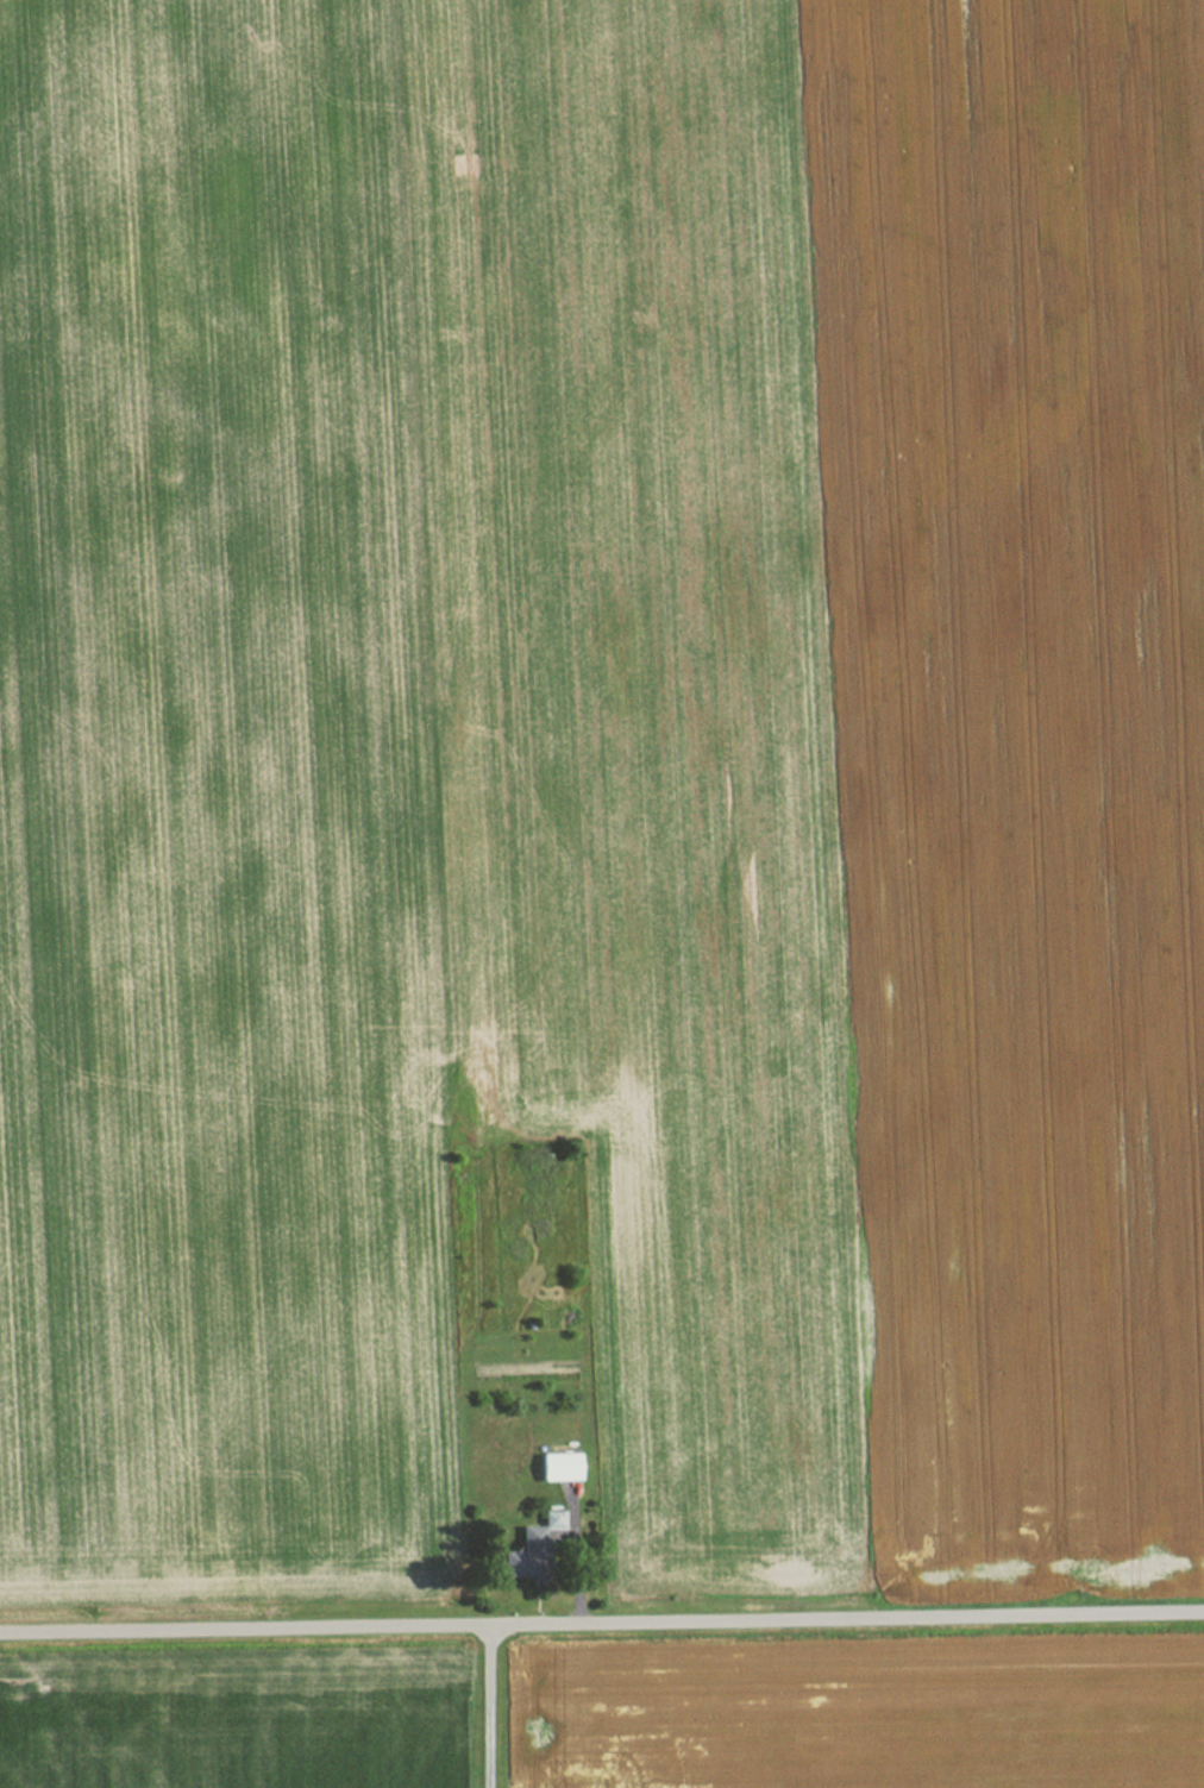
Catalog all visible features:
crop: (602, 772)
building: (557, 1467)
building: (522, 1556)
road: (601, 1626)
road: (488, 1708)
crop: (870, 1720)
crop: (236, 1723)

